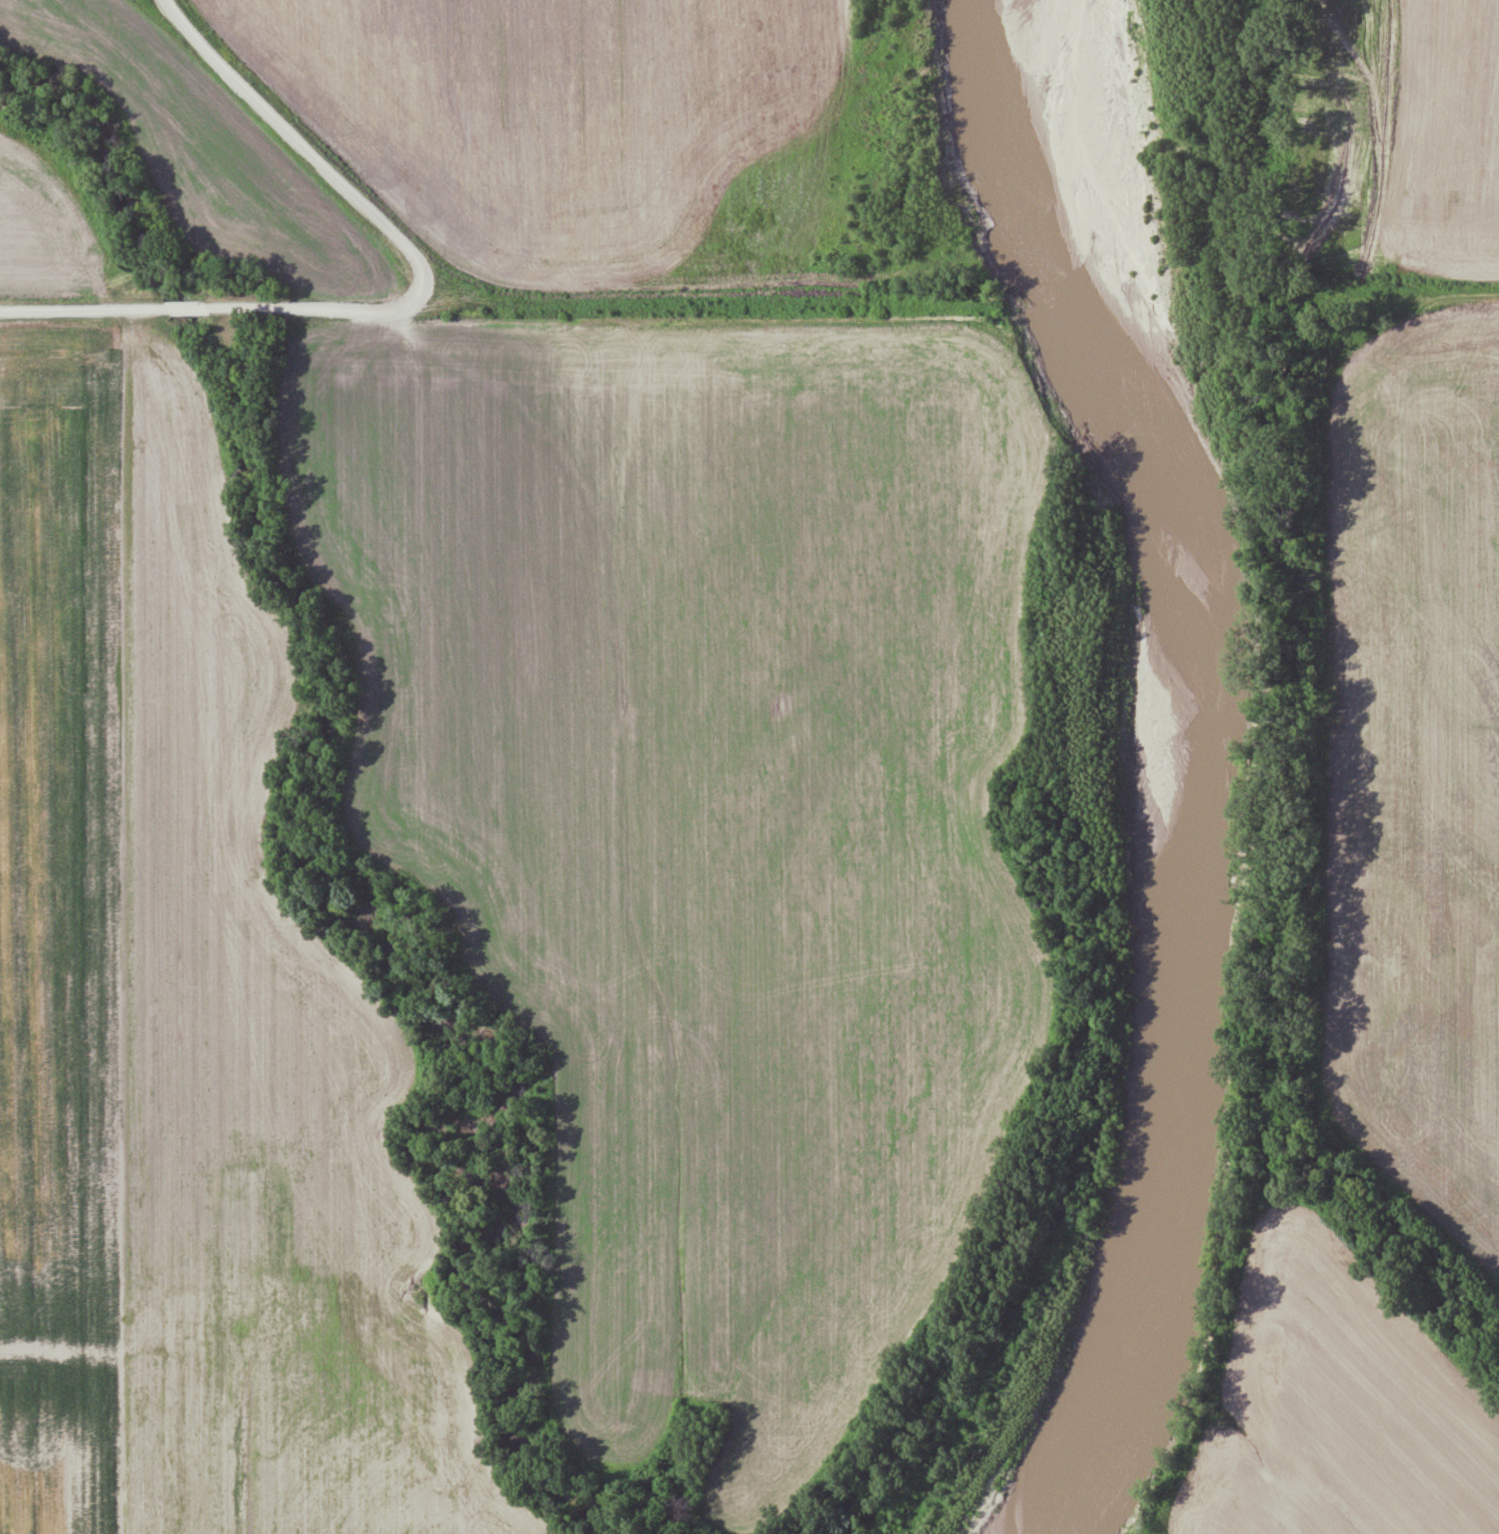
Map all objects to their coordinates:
road: (304, 149)
river: (122, 190)
road: (1448, 295)
road: (731, 303)
road: (207, 306)
river: (386, 942)

